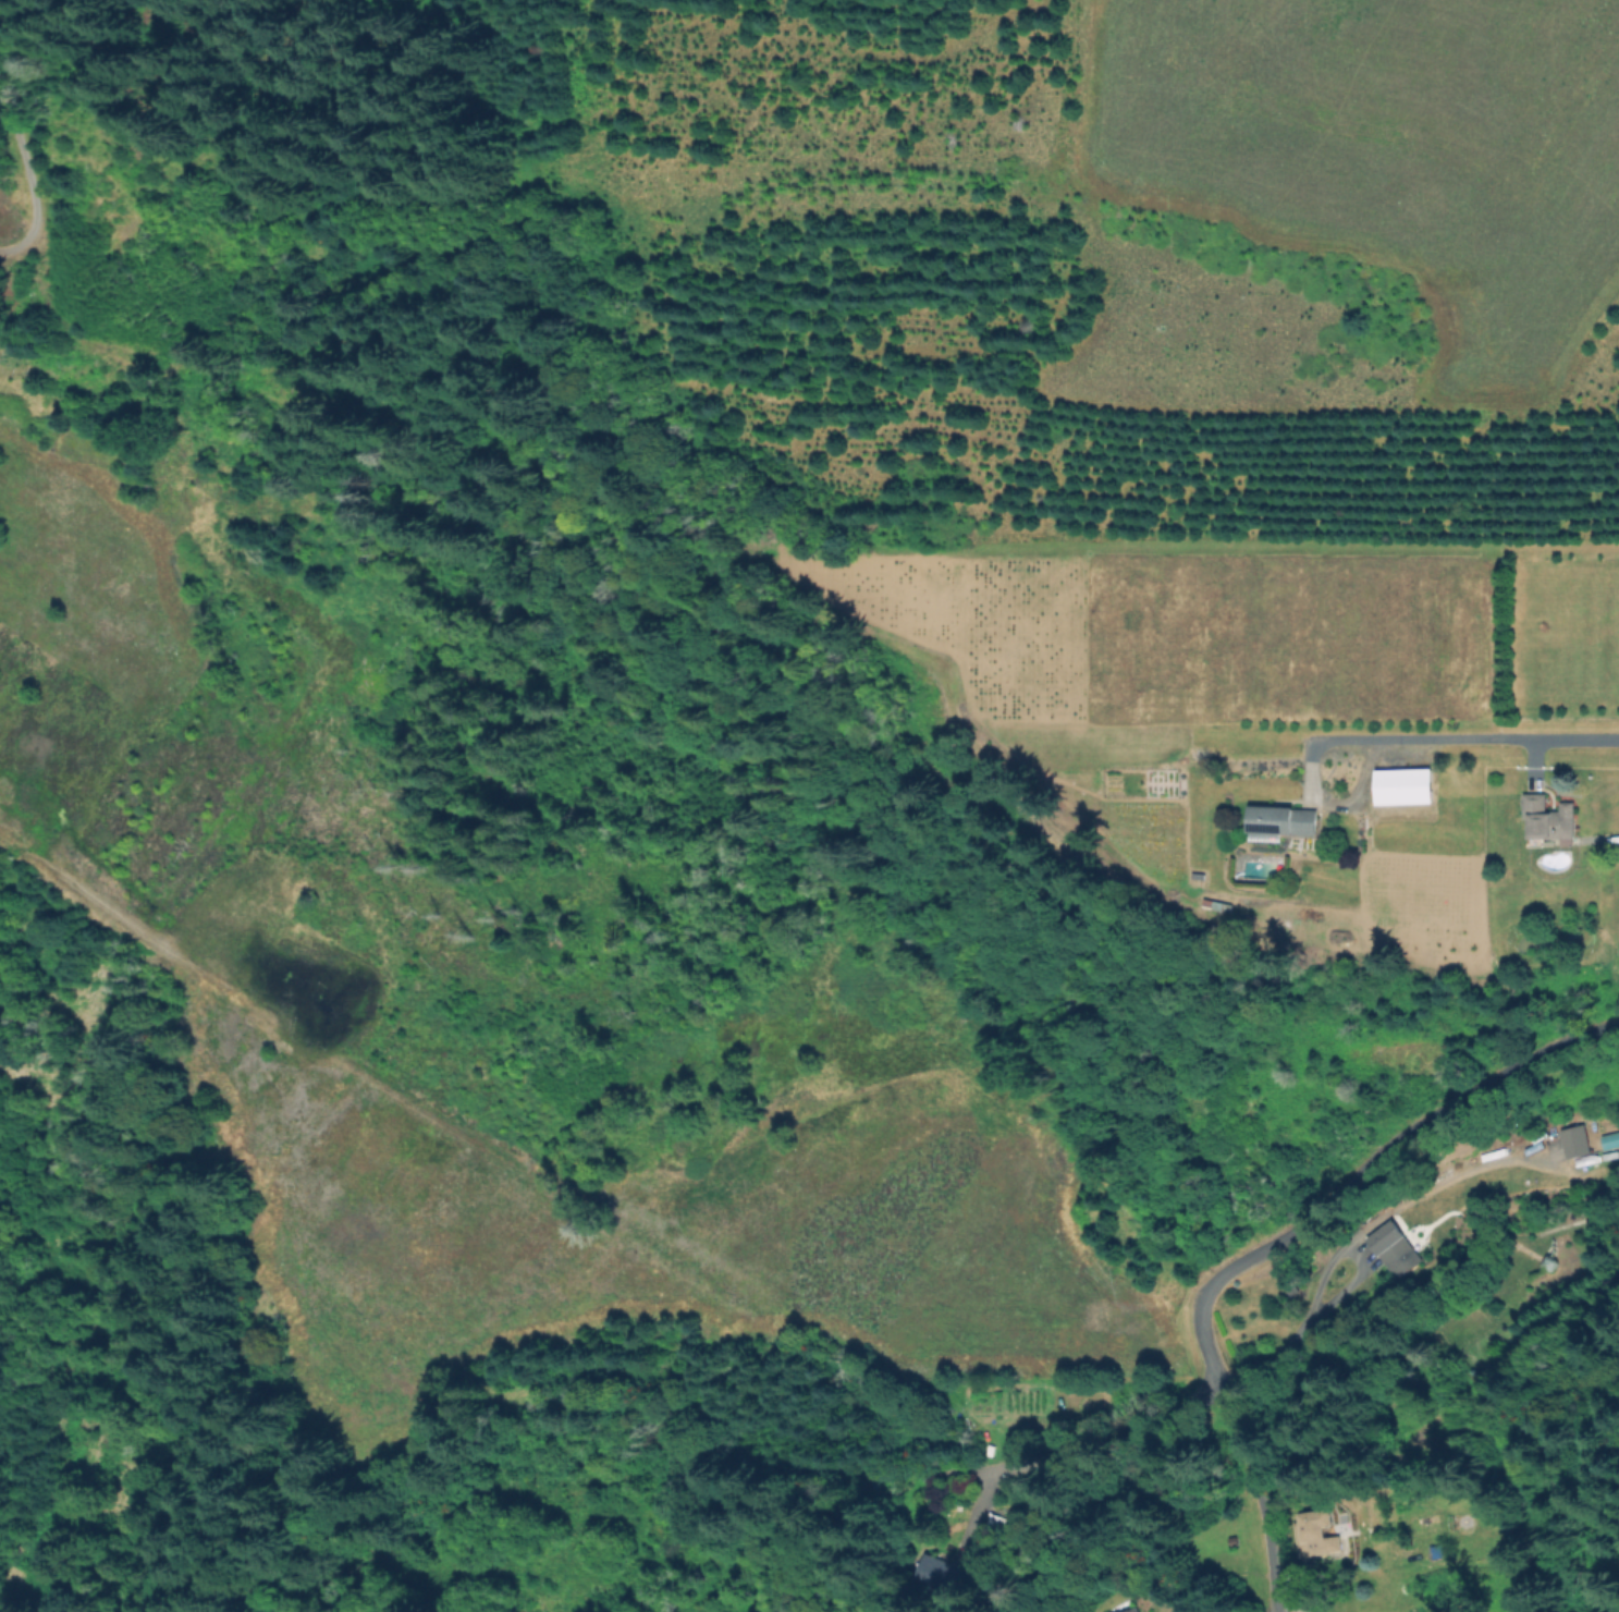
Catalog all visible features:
road: (1461, 738)
building: (1399, 790)
building: (1284, 819)
building: (1548, 833)
building: (1610, 1141)
building: (1577, 1144)
building: (1494, 1153)
road: (1362, 1170)
road: (1350, 1238)
building: (1395, 1249)
building: (1550, 1262)
road: (1137, 1432)
road: (984, 1488)
road: (1264, 1495)
building: (997, 1524)
building: (1314, 1531)
building: (1438, 1551)
building: (940, 1574)
road: (1276, 1608)
building: (1133, 1610)

